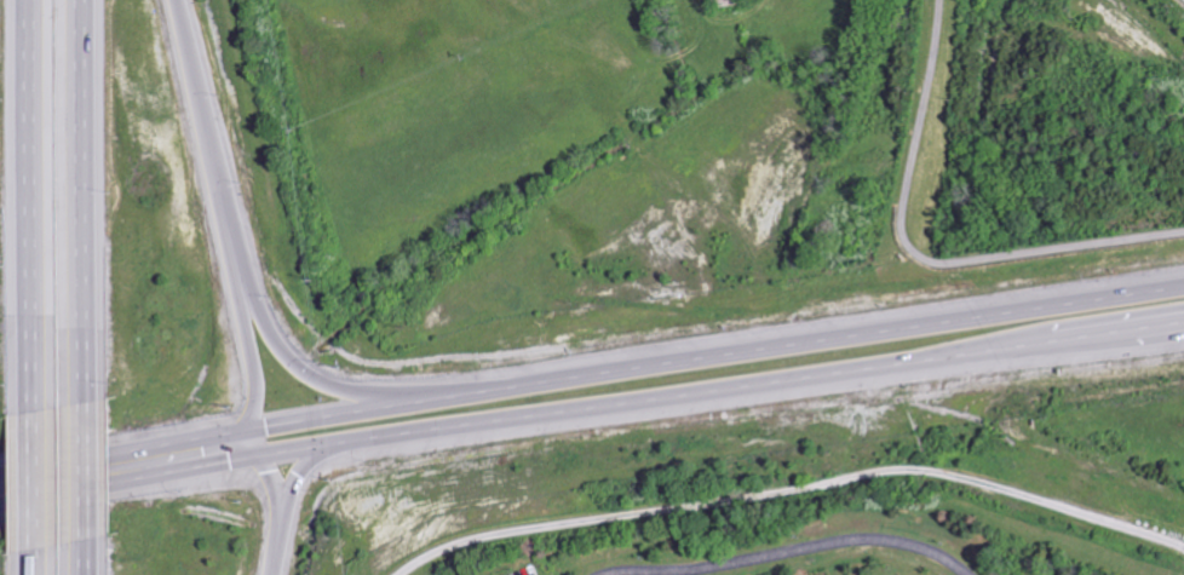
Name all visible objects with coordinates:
road: (202, 128)
road: (88, 203)
road: (22, 207)
road: (918, 257)
road: (245, 346)
road: (315, 378)
road: (591, 379)
road: (591, 419)
road: (87, 477)
road: (30, 481)
road: (266, 504)
road: (284, 505)
road: (788, 550)
road: (30, 560)
road: (88, 560)
road: (268, 574)

